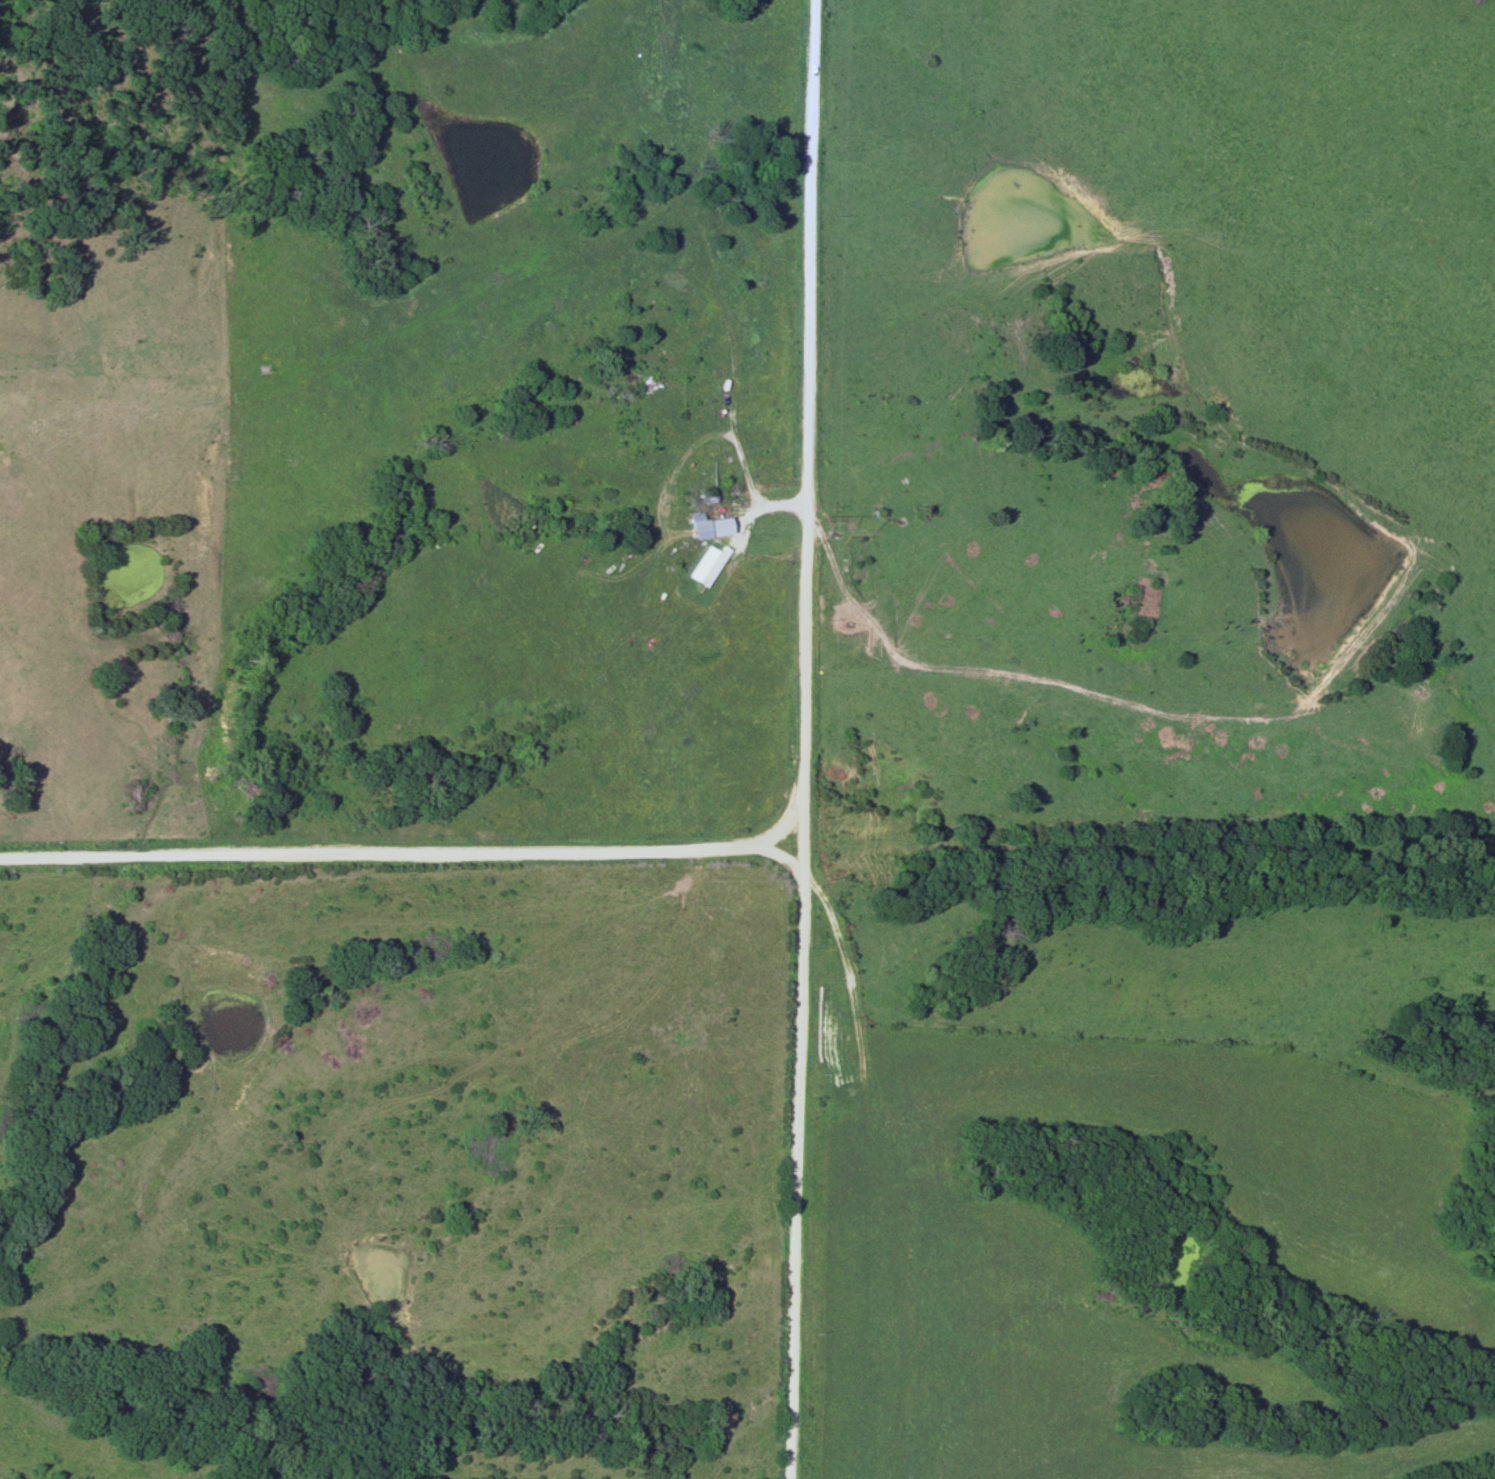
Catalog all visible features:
building: (706, 530)
building: (705, 567)
building: (1, 658)
road: (807, 739)
road: (403, 857)

